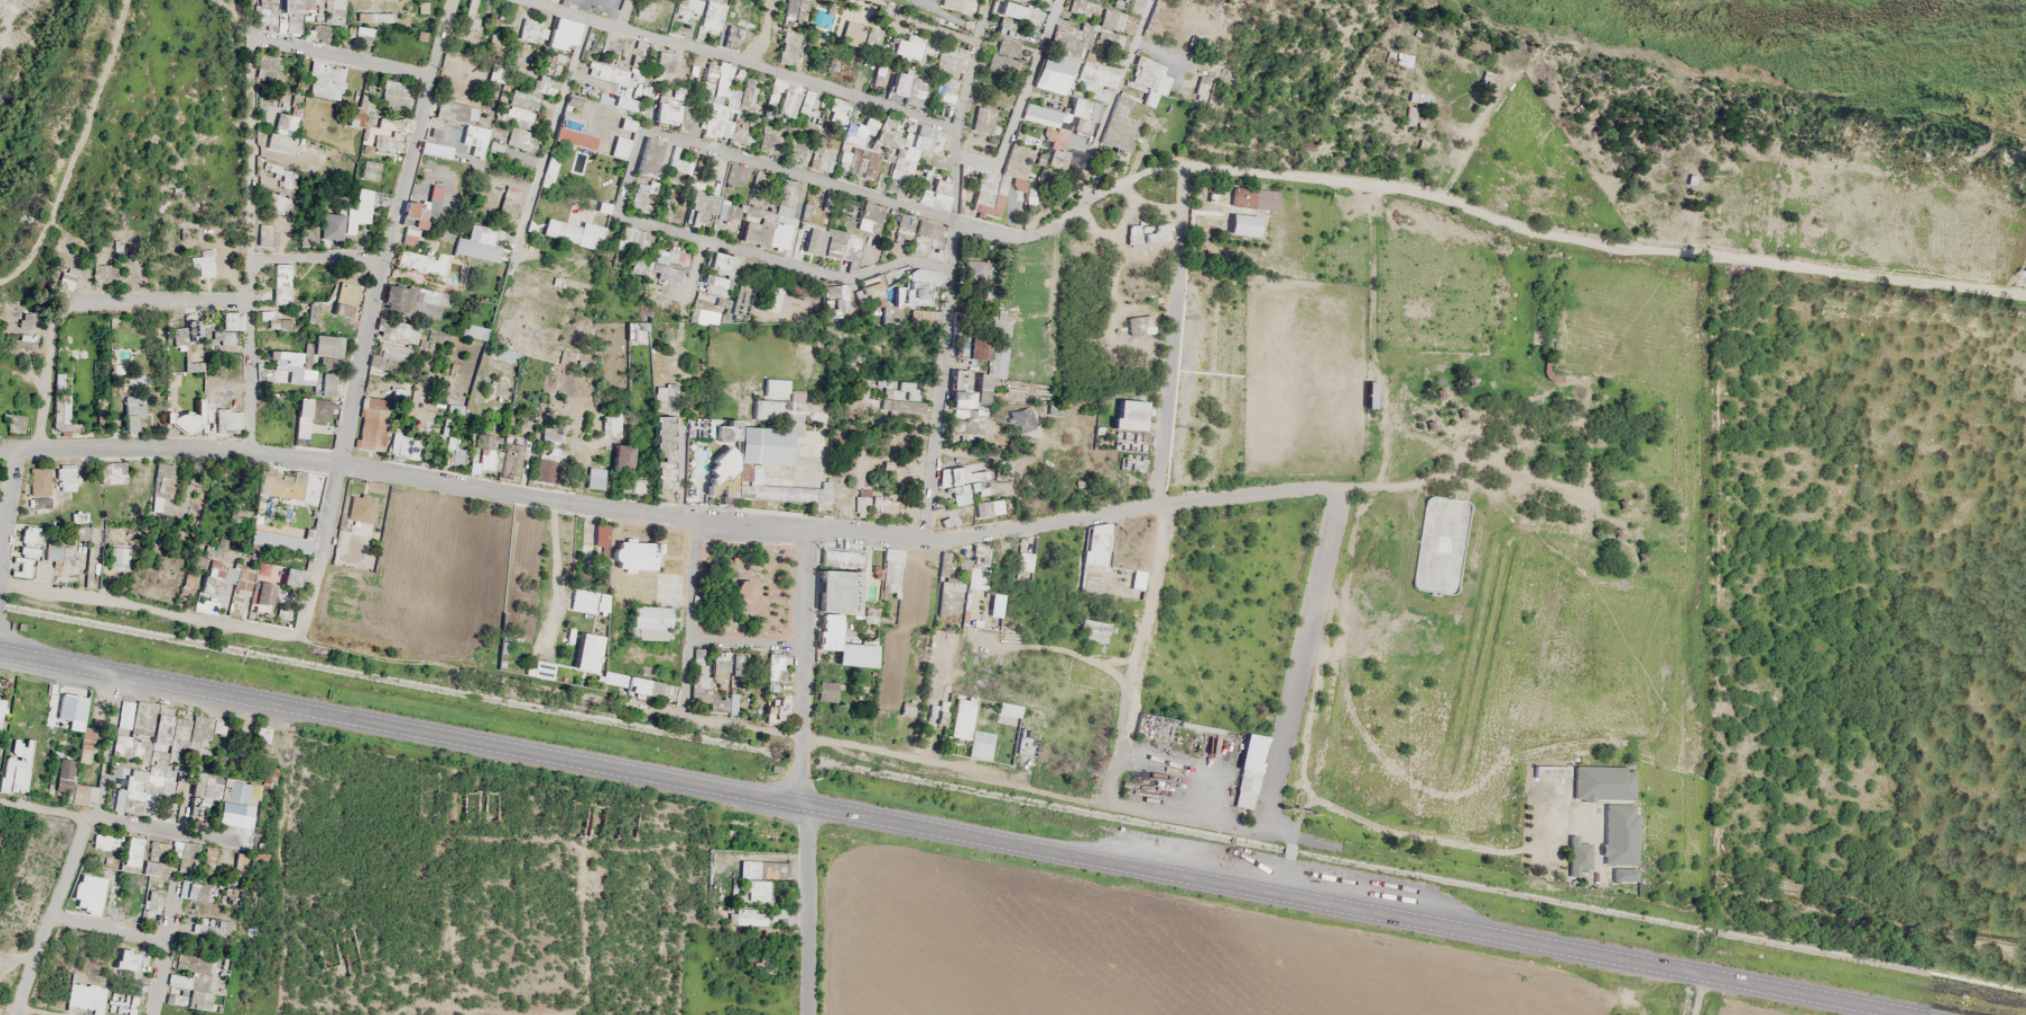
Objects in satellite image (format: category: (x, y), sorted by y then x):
road: (622, 14)
road: (1153, 54)
road: (337, 58)
road: (732, 64)
road: (1025, 84)
road: (1105, 104)
road: (539, 135)
road: (1468, 139)
road: (72, 146)
road: (969, 161)
road: (1181, 168)
road: (628, 173)
road: (792, 176)
road: (246, 227)
road: (657, 228)
road: (313, 259)
road: (1727, 261)
road: (941, 270)
road: (818, 275)
road: (687, 276)
road: (148, 305)
road: (366, 319)
road: (1164, 334)
road: (43, 380)
road: (672, 467)
road: (7, 502)
road: (673, 520)
park: (743, 589)
road: (687, 619)
road: (742, 647)
road: (1134, 648)
road: (1300, 658)
road: (798, 668)
road: (639, 709)
road: (398, 727)
road: (121, 823)
road: (77, 847)
road: (1279, 865)
road: (801, 908)
road: (1352, 912)
road: (105, 929)
road: (161, 950)
road: (1690, 995)
road: (18, 1011)

